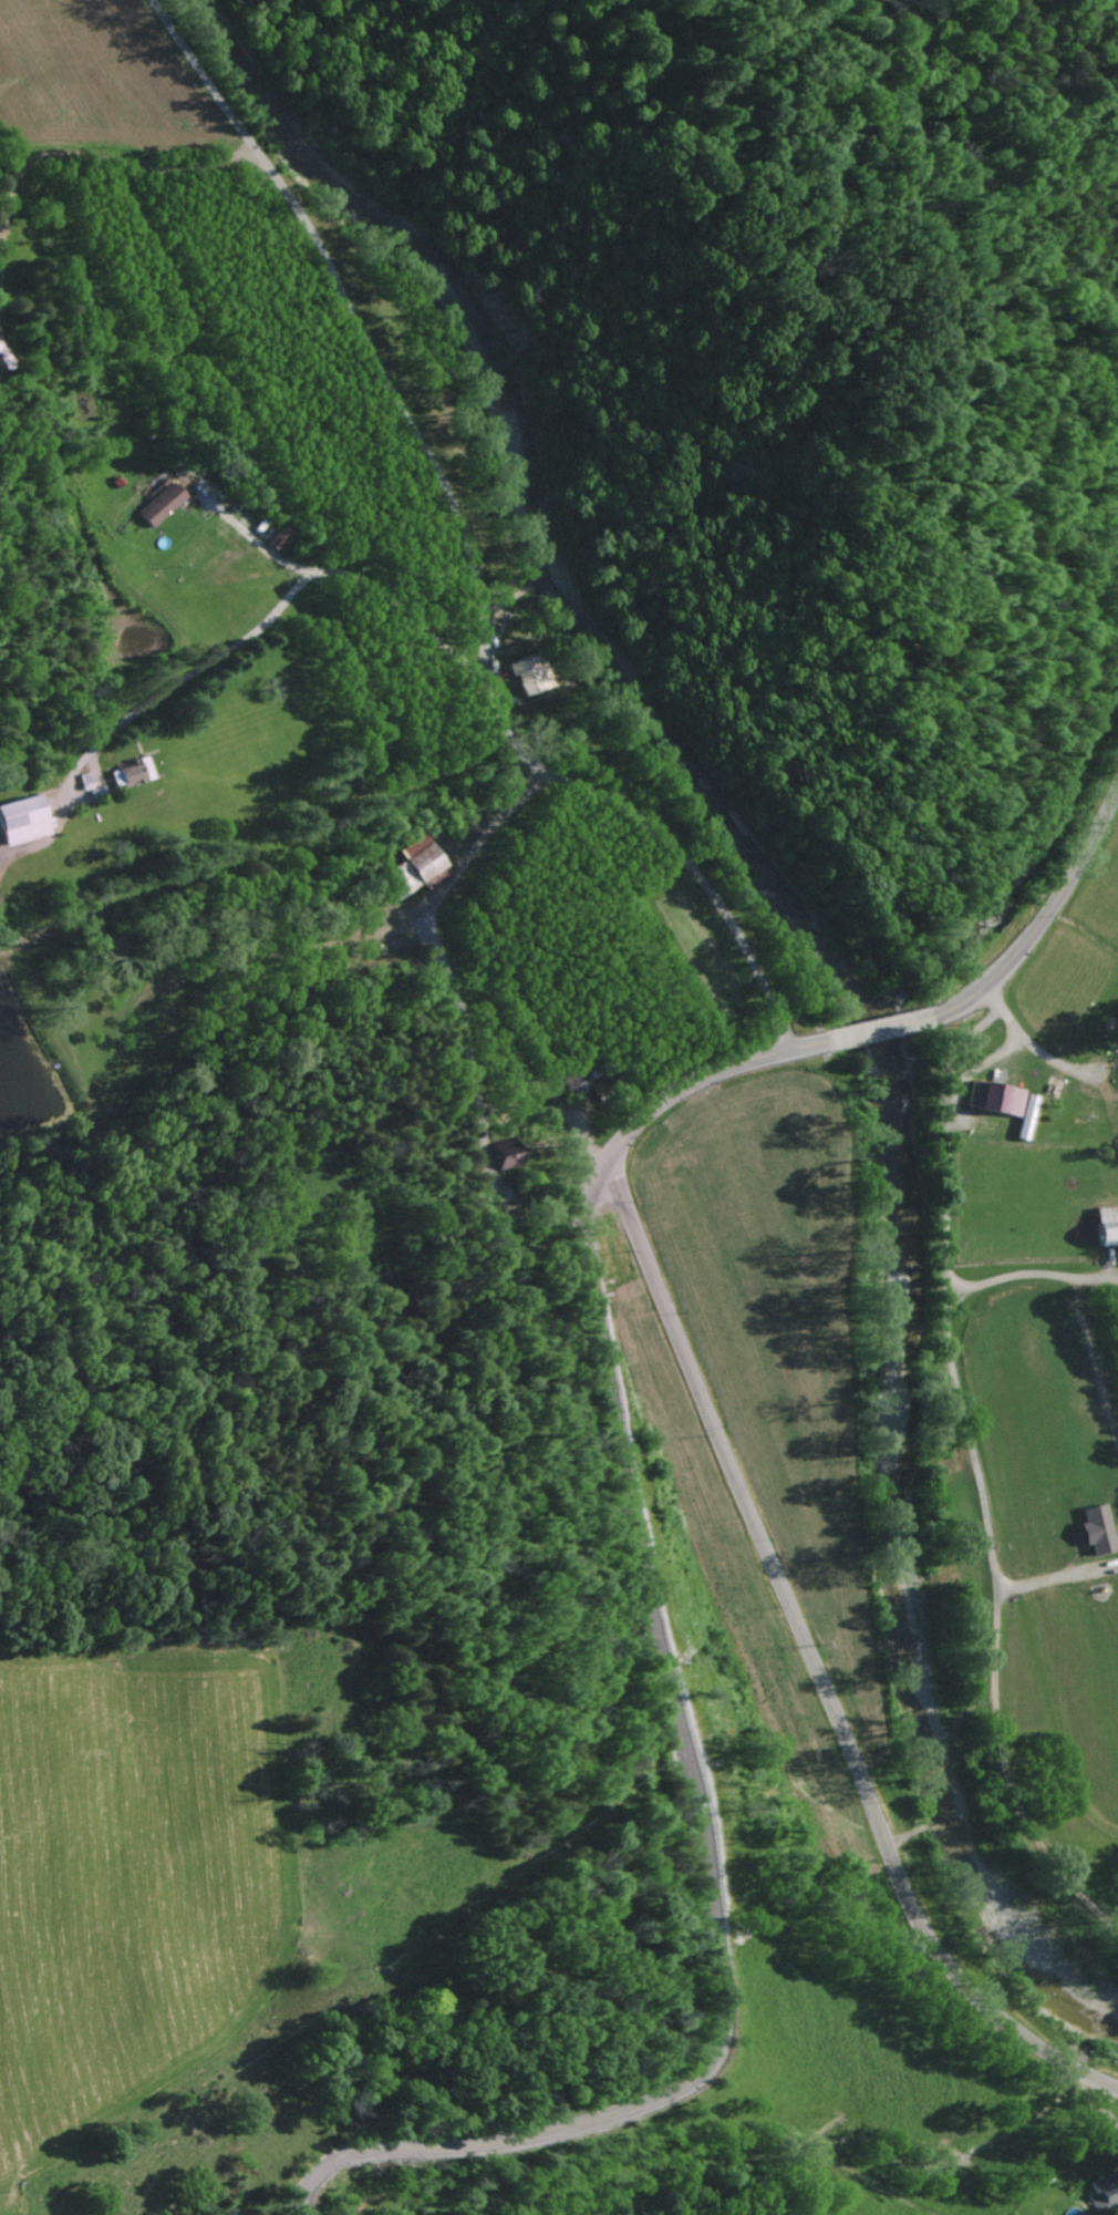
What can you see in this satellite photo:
building: (1, 362)
building: (158, 505)
road: (474, 546)
road: (225, 584)
road: (390, 602)
building: (528, 674)
road: (191, 676)
building: (128, 774)
building: (22, 820)
road: (475, 832)
building: (415, 866)
road: (898, 1028)
road: (1019, 1033)
building: (1053, 1089)
building: (994, 1099)
building: (501, 1158)
building: (1108, 1228)
building: (1097, 1532)
road: (812, 1670)
road: (695, 1843)
building: (1104, 2195)

